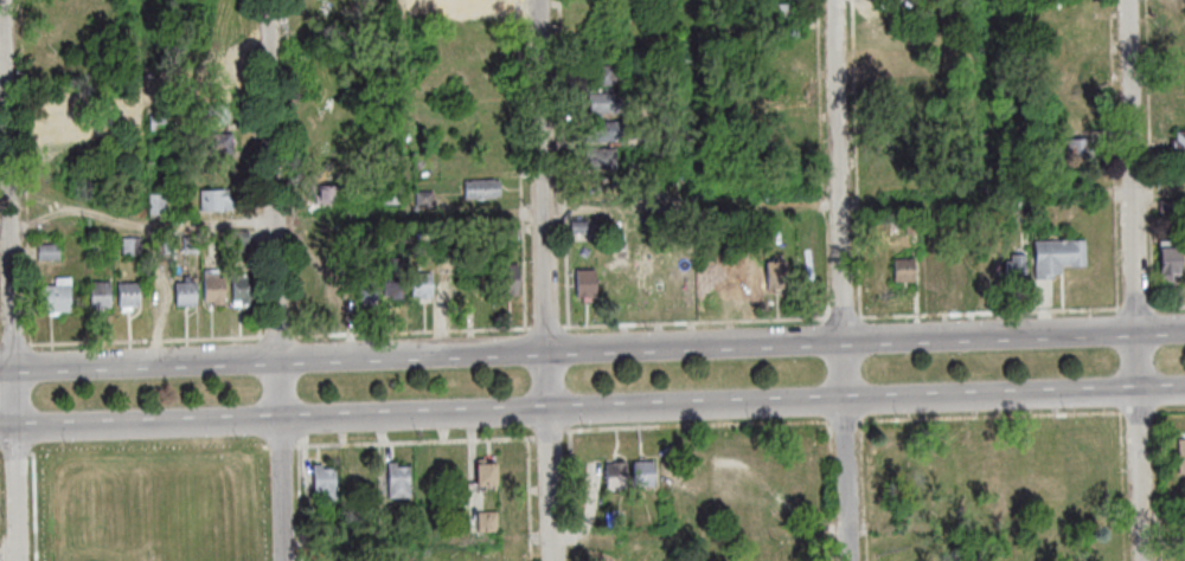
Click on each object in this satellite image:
building: (476, 1)
building: (897, 9)
building: (780, 14)
building: (606, 75)
building: (355, 80)
building: (649, 82)
building: (216, 89)
road: (1115, 91)
building: (609, 103)
building: (217, 114)
building: (123, 117)
building: (63, 118)
building: (159, 122)
building: (609, 131)
building: (659, 137)
building: (220, 142)
building: (1179, 142)
building: (1080, 147)
building: (907, 154)
road: (1152, 154)
building: (606, 159)
road: (827, 159)
road: (858, 159)
road: (568, 162)
road: (523, 165)
building: (642, 166)
building: (483, 188)
building: (393, 192)
road: (1159, 194)
building: (329, 195)
building: (425, 199)
building: (217, 200)
building: (159, 204)
building: (1168, 207)
road: (422, 217)
building: (914, 225)
building: (581, 226)
building: (513, 230)
building: (347, 237)
building: (373, 239)
building: (242, 240)
building: (191, 245)
building: (102, 246)
building: (133, 246)
building: (50, 251)
building: (1058, 256)
building: (1171, 259)
building: (1018, 267)
building: (930, 269)
building: (876, 270)
building: (905, 270)
building: (957, 271)
building: (674, 276)
building: (779, 276)
building: (397, 277)
building: (641, 277)
road: (14, 279)
road: (278, 279)
building: (511, 279)
road: (845, 279)
road: (547, 280)
building: (610, 280)
road: (1135, 280)
building: (588, 283)
building: (423, 285)
building: (216, 286)
building: (367, 286)
building: (340, 288)
building: (244, 289)
building: (187, 294)
building: (101, 295)
building: (130, 296)
building: (57, 297)
road: (1170, 308)
road: (1138, 309)
road: (991, 314)
road: (845, 317)
road: (697, 322)
road: (549, 328)
road: (415, 333)
road: (280, 337)
road: (147, 342)
road: (15, 346)
road: (0, 347)
road: (592, 348)
road: (591, 408)
road: (1171, 411)
road: (1140, 412)
road: (993, 417)
road: (847, 423)
road: (792, 424)
road: (831, 424)
road: (525, 439)
road: (282, 446)
road: (1, 449)
road: (18, 450)
building: (1183, 454)
building: (647, 473)
building: (617, 475)
building: (486, 476)
building: (399, 481)
building: (326, 483)
road: (1125, 486)
road: (1159, 486)
road: (866, 491)
road: (574, 496)
road: (532, 499)
road: (302, 503)
road: (1, 504)
road: (38, 505)
park: (156, 508)
road: (591, 512)
building: (489, 522)
road: (419, 553)

